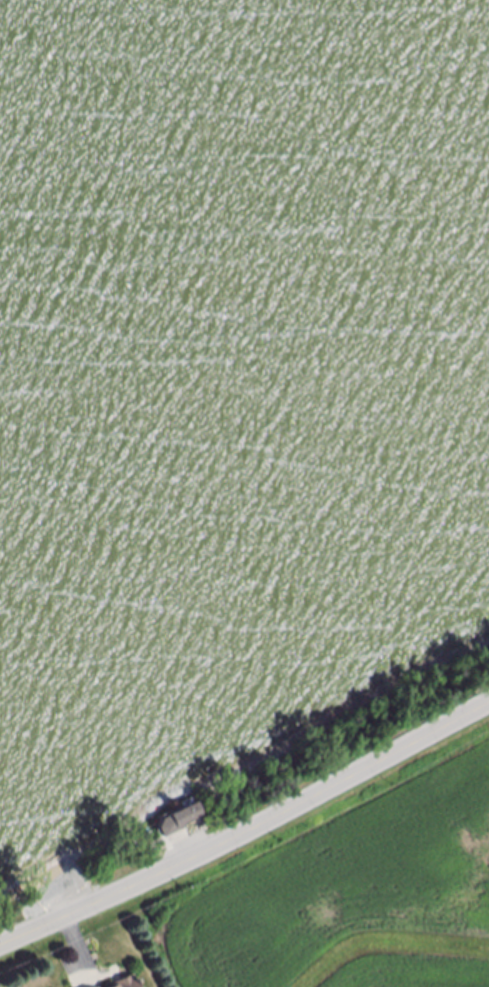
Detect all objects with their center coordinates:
building: (178, 818)
road: (248, 832)
crop: (346, 887)
building: (129, 984)

